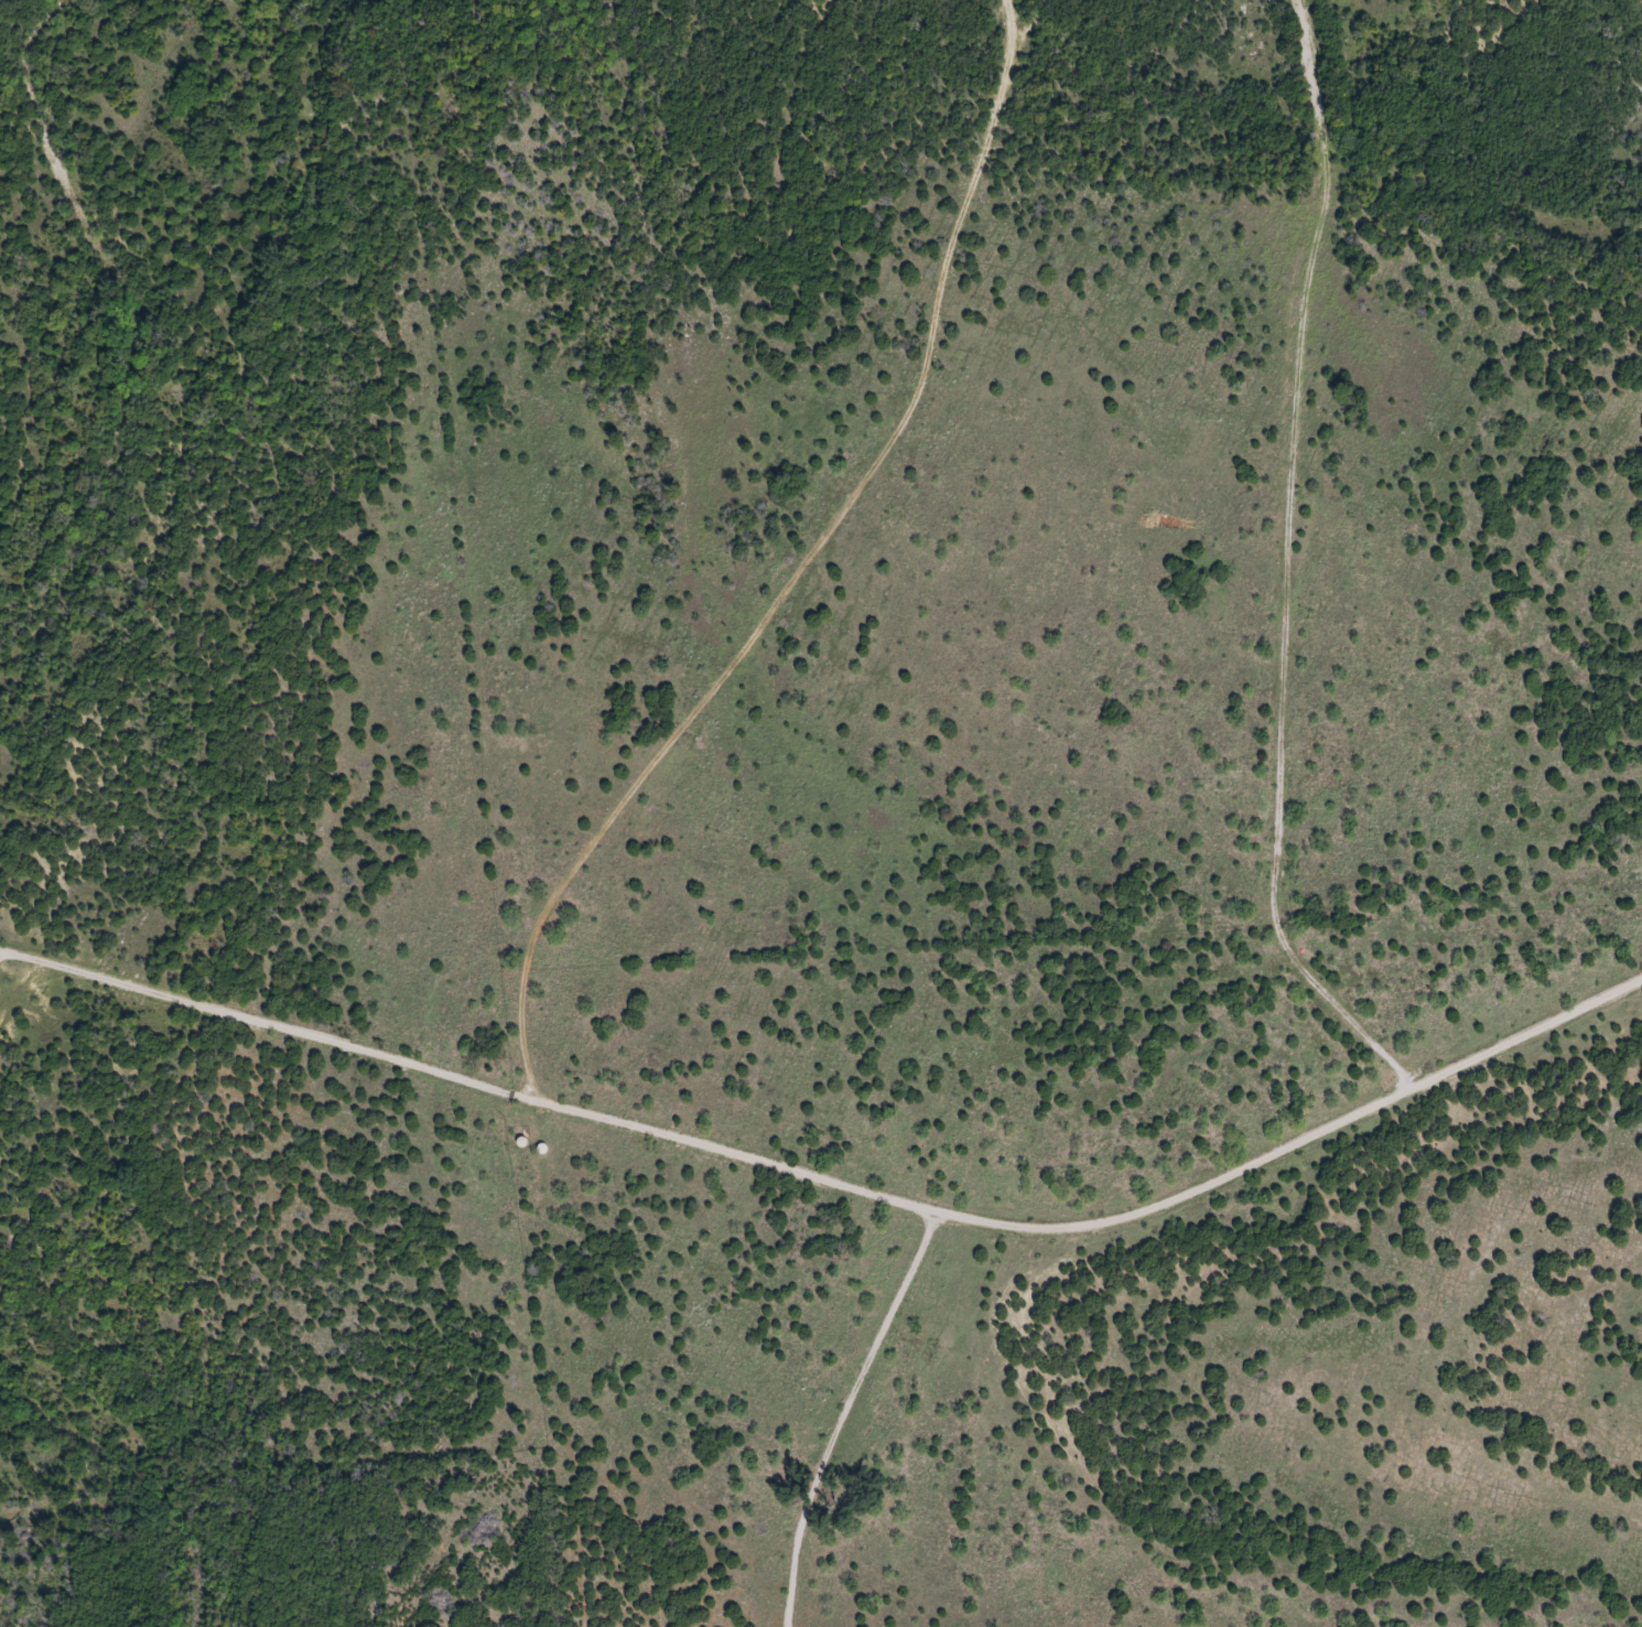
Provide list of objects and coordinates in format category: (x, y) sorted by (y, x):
road: (1285, 580)
road: (613, 812)
road: (834, 1176)

